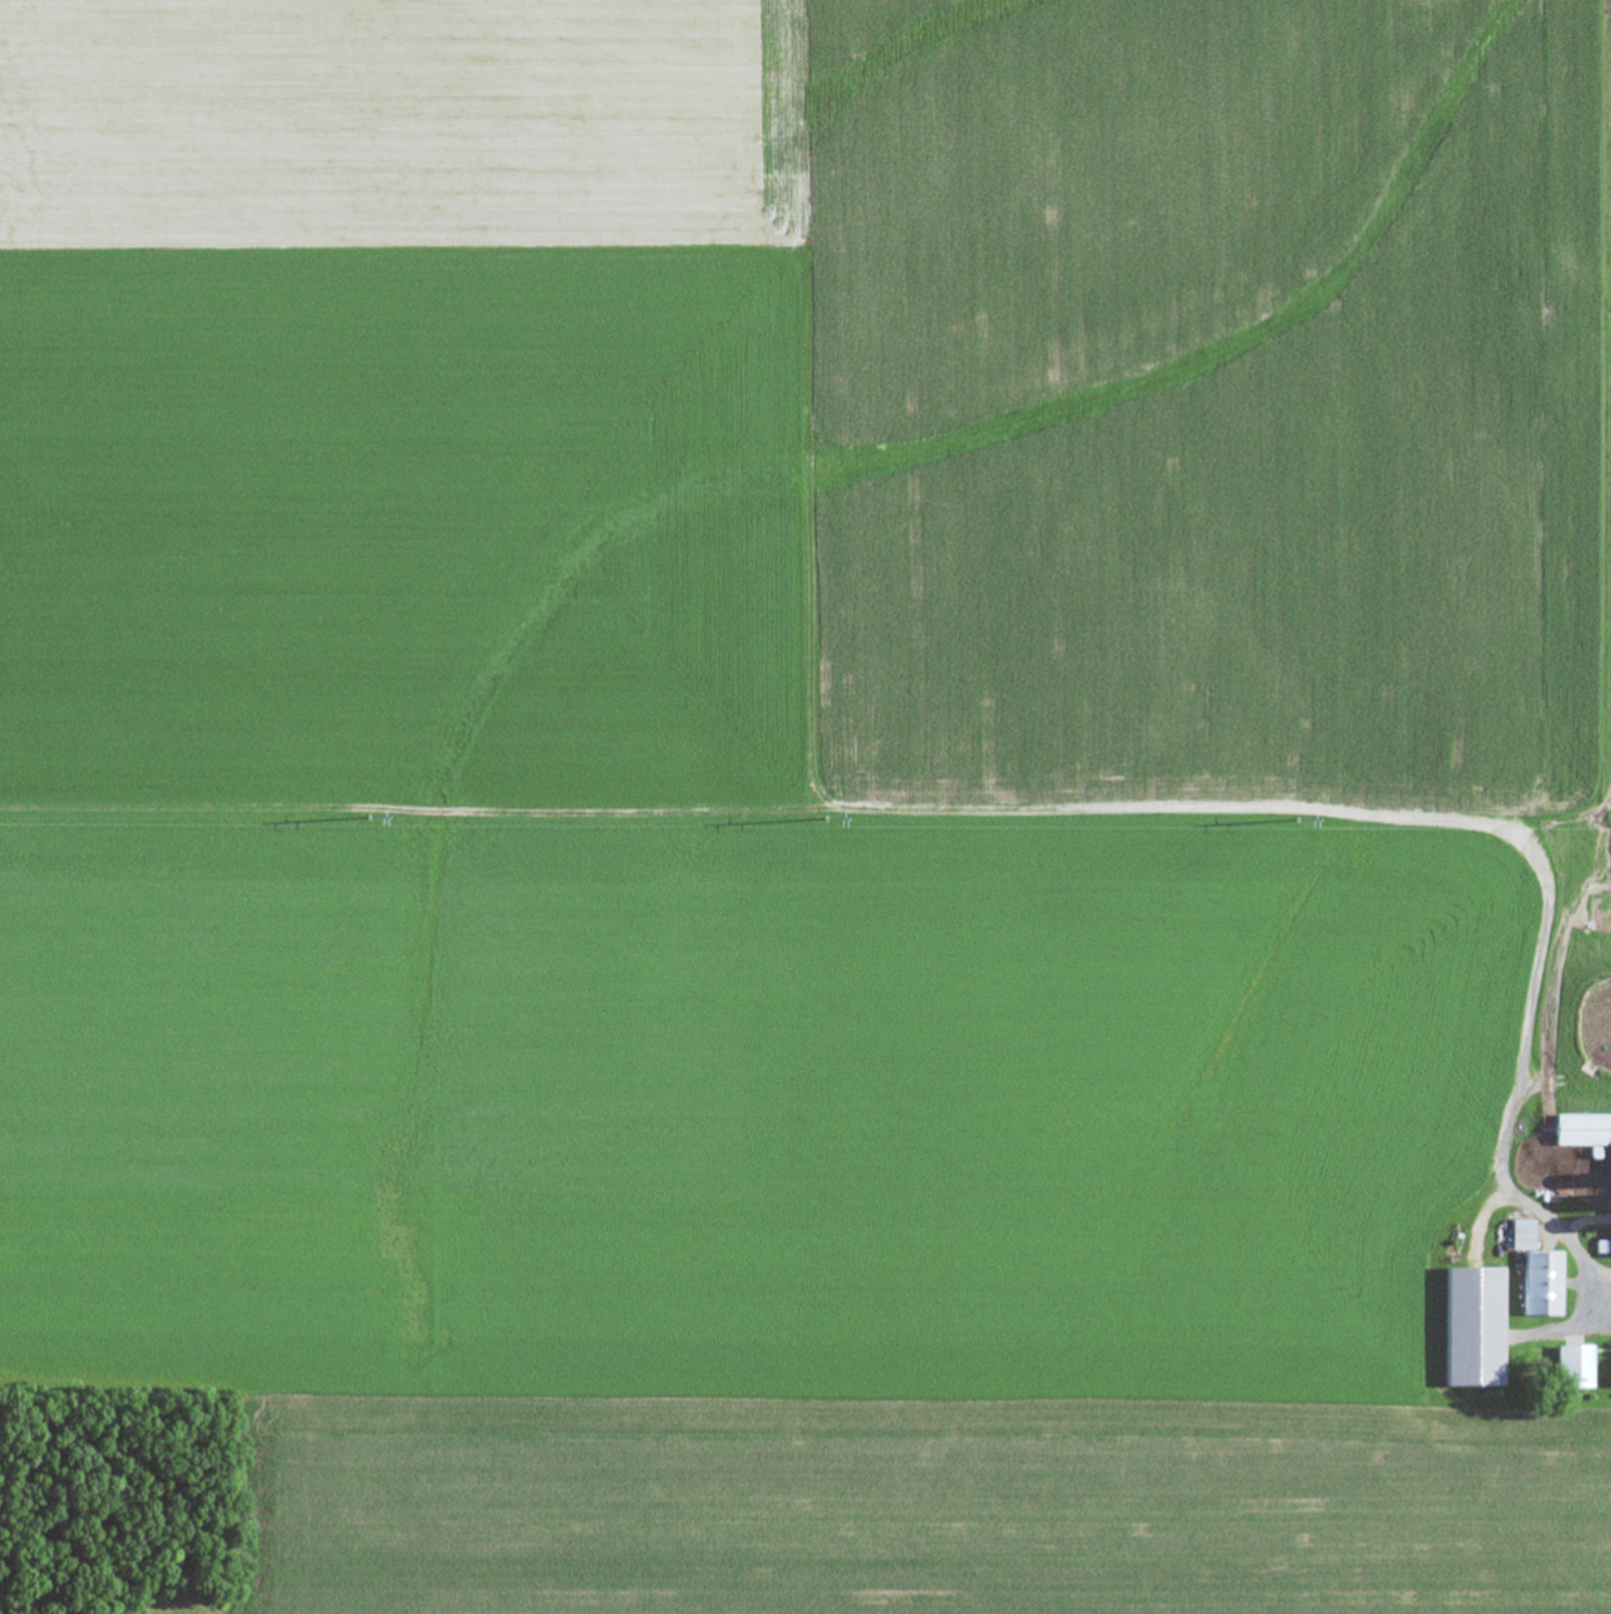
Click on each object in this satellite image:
building: (1580, 1130)
road: (1562, 1238)
building: (1535, 1273)
building: (1471, 1328)
building: (1571, 1367)
building: (1609, 1373)

